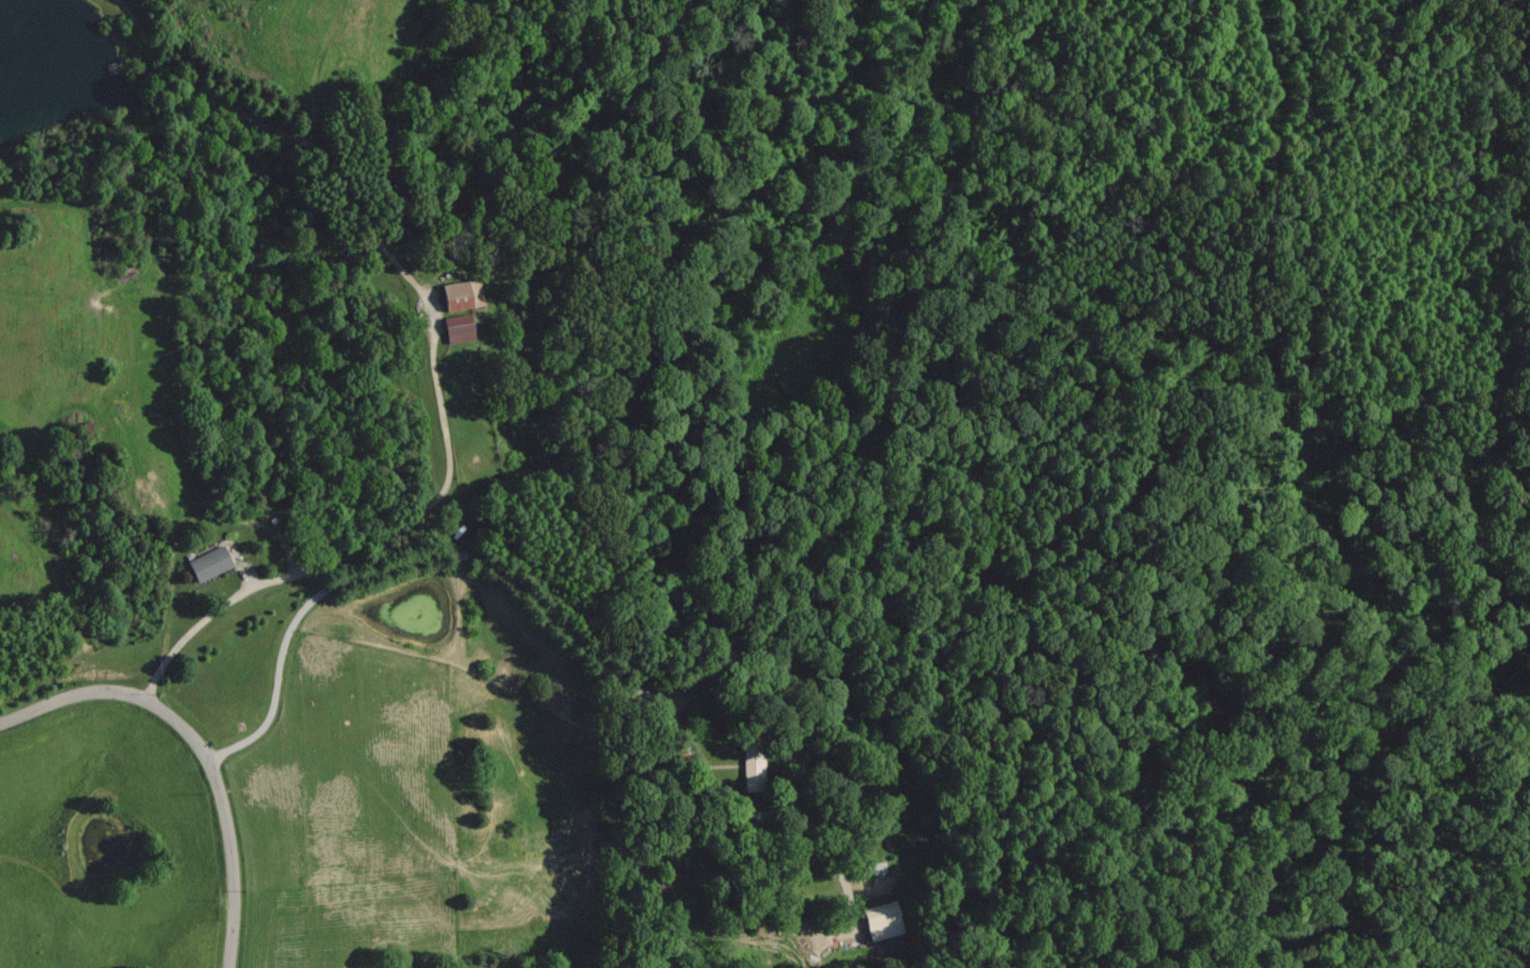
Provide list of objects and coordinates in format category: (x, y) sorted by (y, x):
building: (461, 295)
building: (458, 328)
road: (402, 533)
building: (209, 563)
road: (541, 609)
road: (197, 750)
building: (752, 767)
building: (872, 869)
building: (882, 921)

